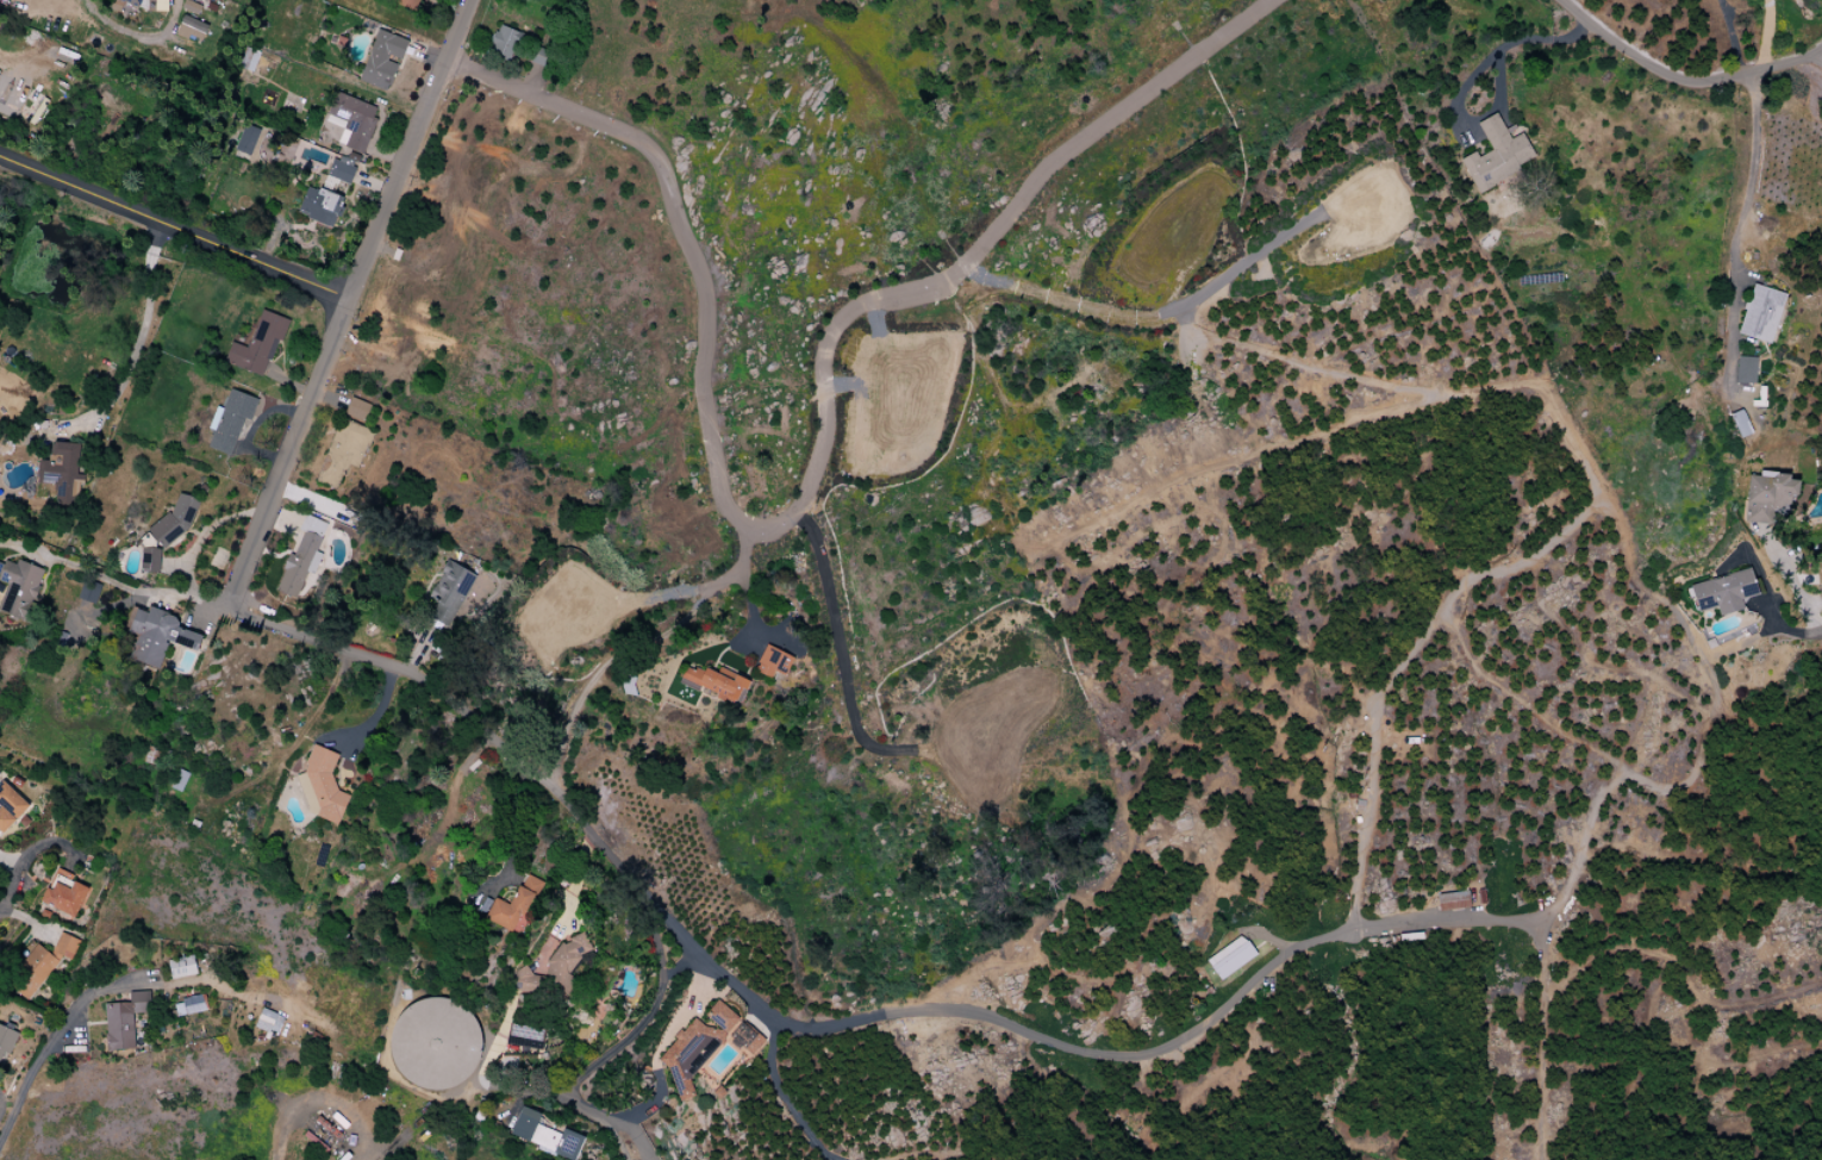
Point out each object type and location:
building: (130, 2)
building: (406, 4)
building: (154, 5)
building: (191, 27)
road: (1767, 32)
road: (1734, 35)
building: (514, 46)
road: (1817, 46)
road: (1817, 54)
building: (381, 61)
road: (1679, 74)
road: (1471, 77)
road: (1112, 117)
building: (354, 120)
building: (247, 139)
building: (1497, 154)
building: (327, 195)
road: (175, 230)
road: (1737, 232)
building: (1760, 313)
road: (137, 339)
building: (260, 347)
building: (1745, 369)
road: (1547, 395)
building: (358, 410)
building: (1740, 423)
building: (235, 424)
road: (707, 436)
building: (343, 454)
building: (63, 472)
building: (1767, 495)
building: (176, 520)
building: (149, 559)
building: (299, 566)
road: (1785, 569)
road: (94, 573)
building: (19, 588)
building: (88, 592)
building: (1723, 592)
building: (449, 593)
road: (194, 595)
road: (1766, 598)
road: (747, 603)
building: (160, 637)
road: (637, 648)
road: (1412, 659)
building: (773, 662)
building: (716, 684)
road: (372, 716)
building: (177, 780)
building: (320, 788)
building: (10, 806)
road: (592, 830)
road: (17, 877)
building: (63, 893)
building: (1452, 900)
building: (512, 908)
building: (1229, 958)
building: (39, 965)
building: (181, 967)
building: (556, 969)
building: (189, 1005)
road: (76, 1014)
building: (124, 1019)
building: (268, 1021)
road: (642, 1023)
building: (745, 1039)
building: (5, 1043)
building: (436, 1044)
building: (694, 1049)
road: (14, 1110)
road: (618, 1124)
building: (544, 1135)
road: (614, 1136)
road: (645, 1146)

